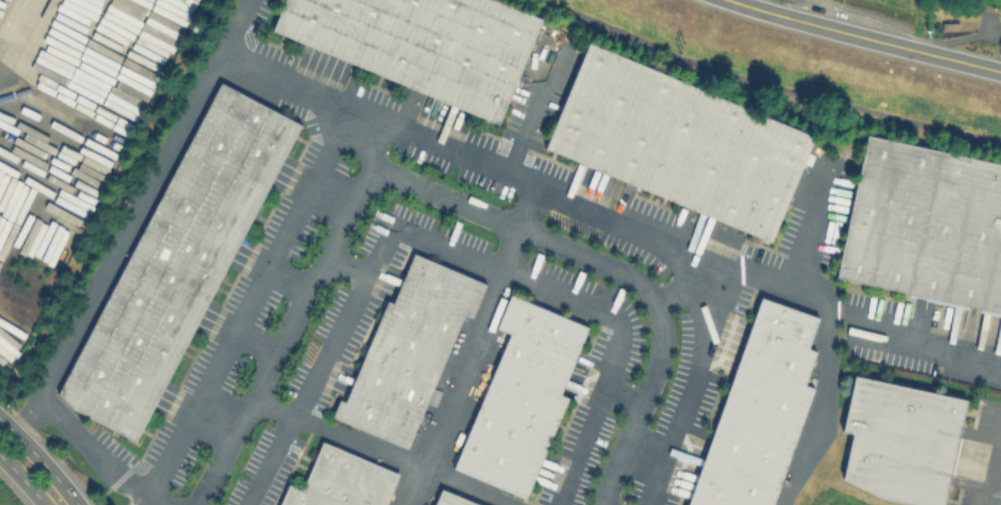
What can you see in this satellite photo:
road: (15, 30)
road: (864, 37)
building: (430, 43)
building: (1000, 45)
road: (772, 82)
building: (687, 142)
road: (23, 152)
road: (167, 153)
road: (328, 195)
road: (444, 197)
road: (525, 208)
building: (927, 225)
road: (645, 242)
road: (451, 250)
building: (184, 262)
road: (347, 267)
road: (286, 278)
road: (244, 302)
road: (825, 318)
road: (254, 342)
road: (916, 343)
building: (414, 351)
road: (467, 367)
road: (622, 396)
building: (528, 397)
building: (760, 411)
road: (216, 416)
building: (903, 440)
road: (385, 451)
road: (98, 452)
road: (37, 456)
building: (348, 482)
road: (26, 484)
building: (456, 499)
road: (60, 503)

